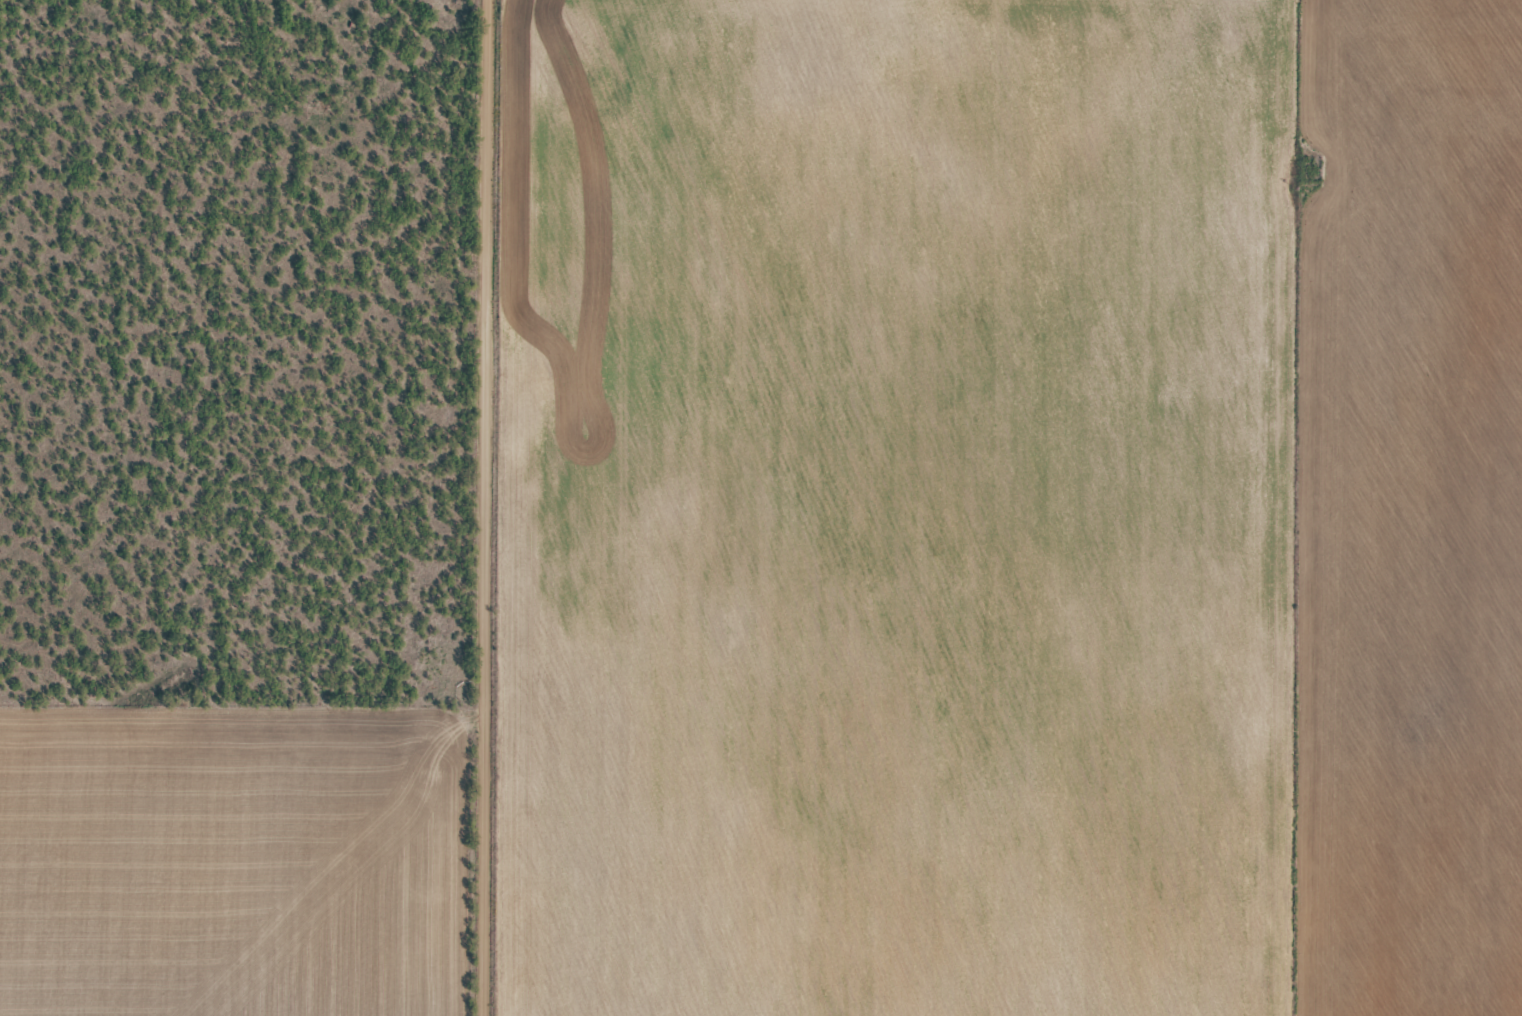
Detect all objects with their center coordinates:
road: (468, 508)

